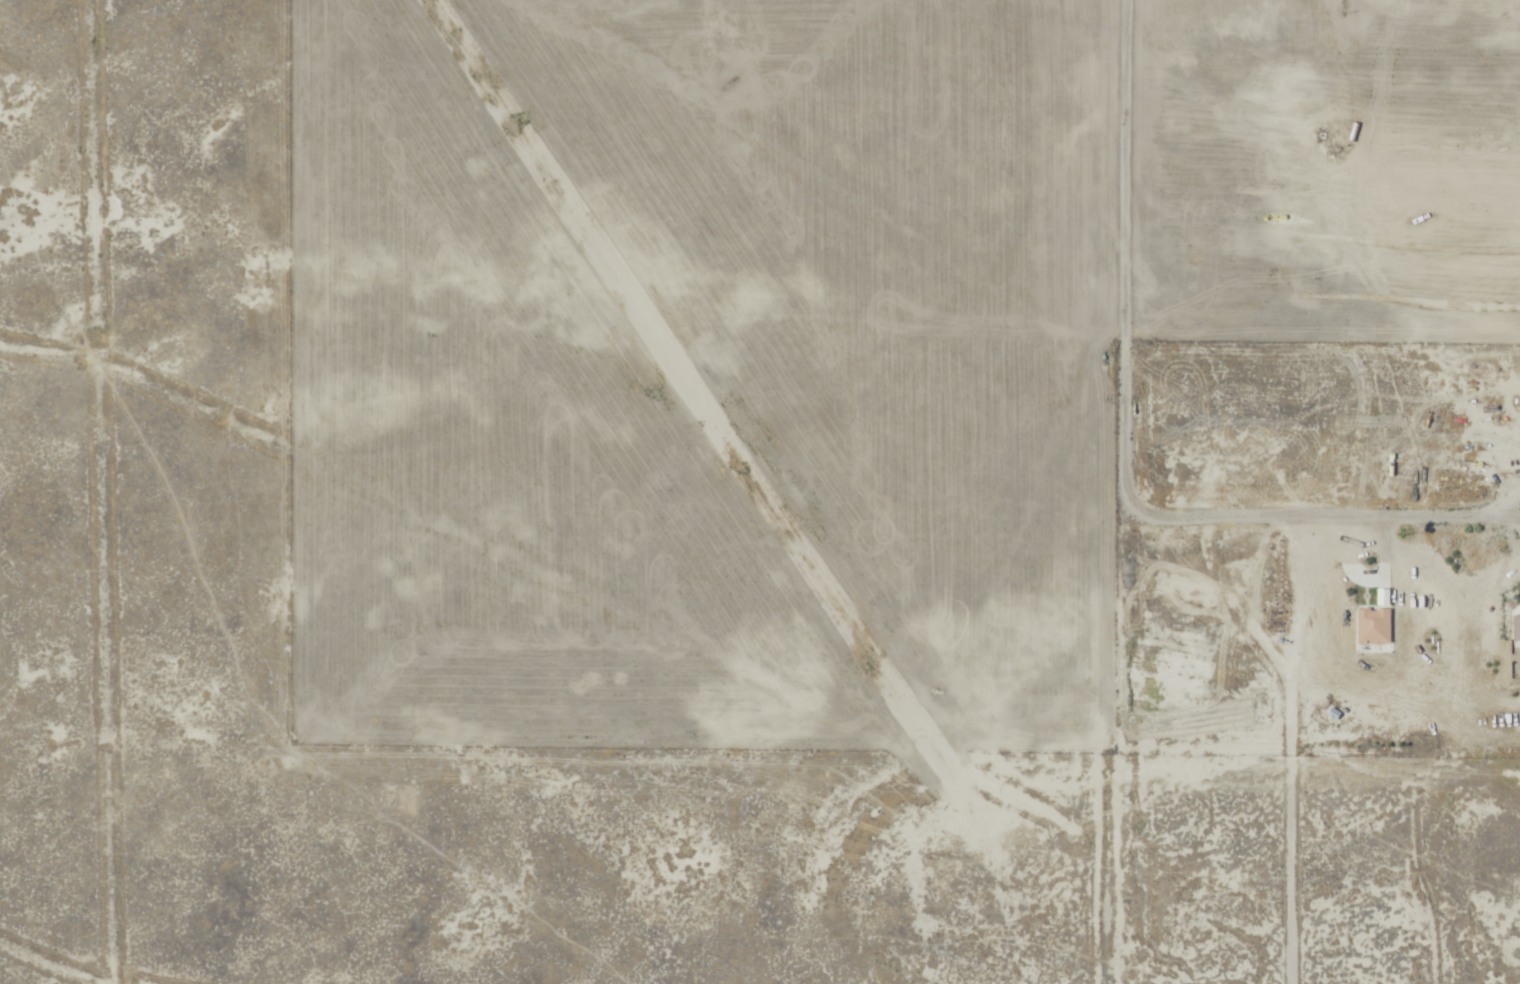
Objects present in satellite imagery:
airport runway: (693, 384)
road: (1235, 615)
building: (1373, 626)
building: (1516, 628)
road: (1282, 834)

